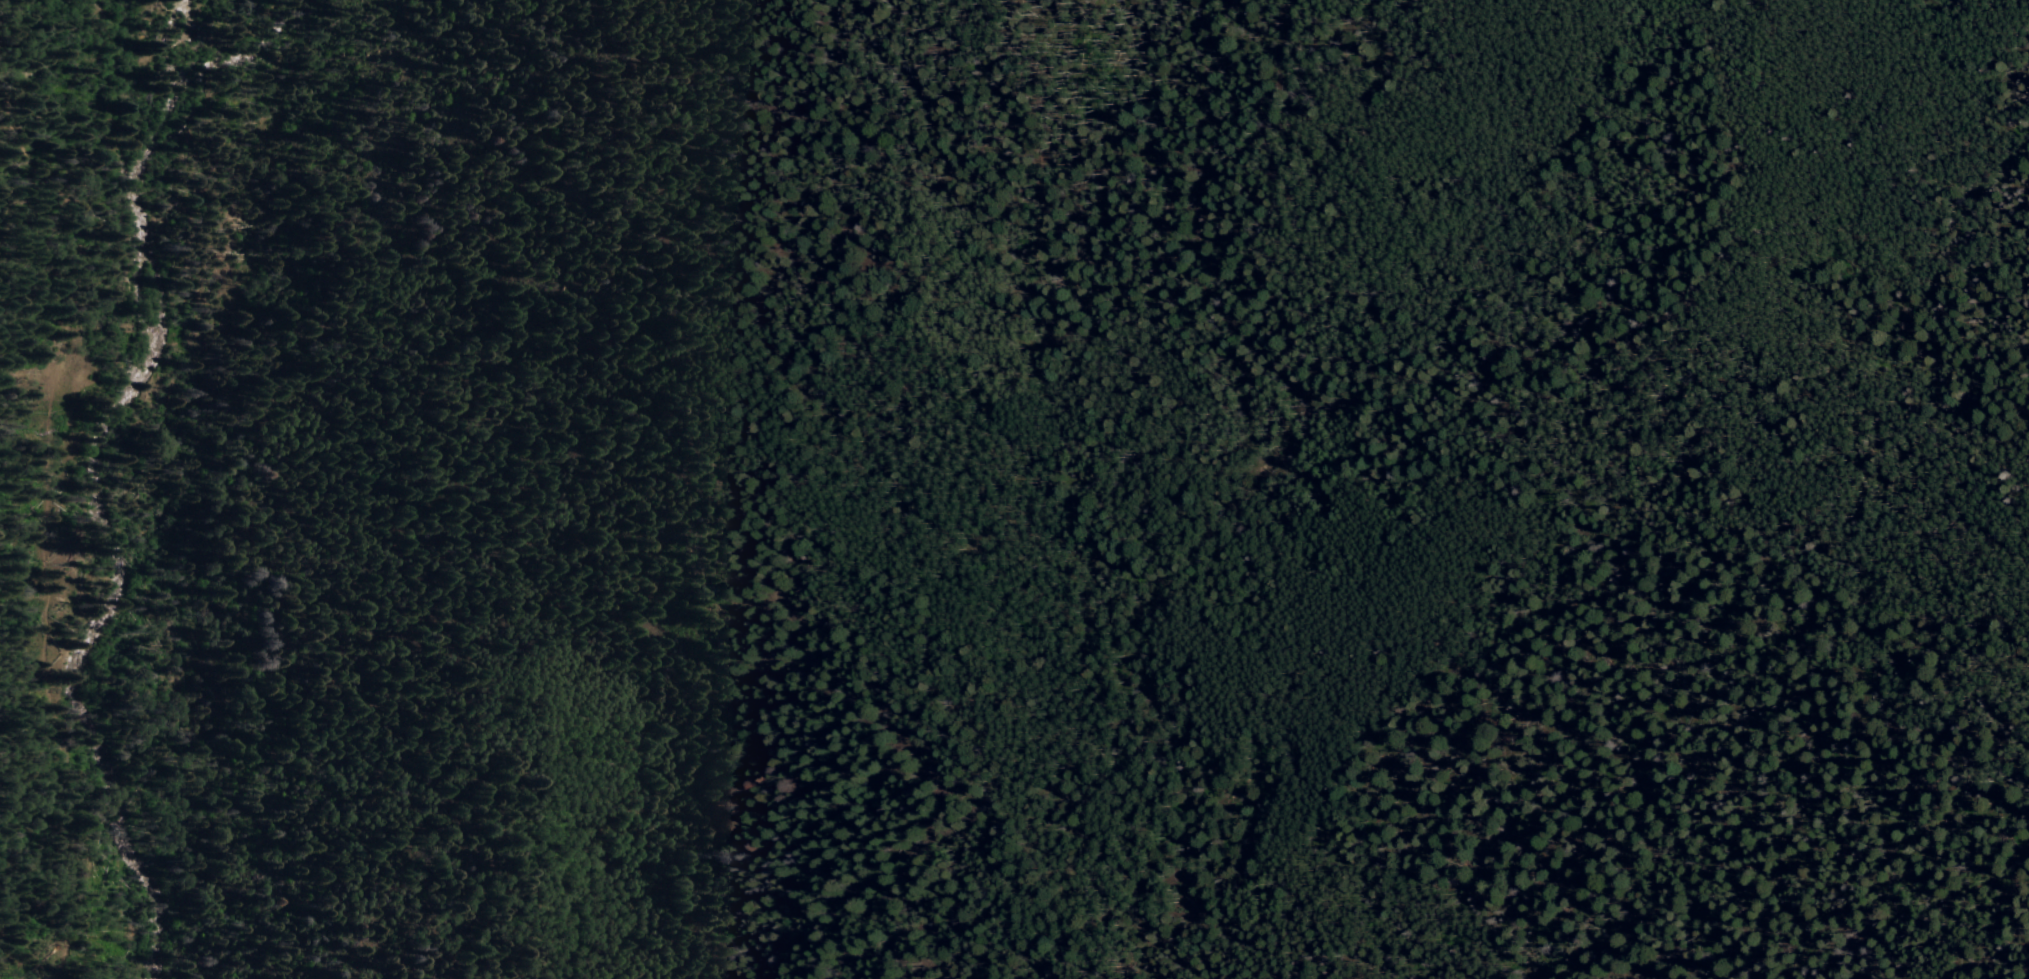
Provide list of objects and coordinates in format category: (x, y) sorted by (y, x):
road: (29, 374)
river: (103, 478)
road: (54, 544)

